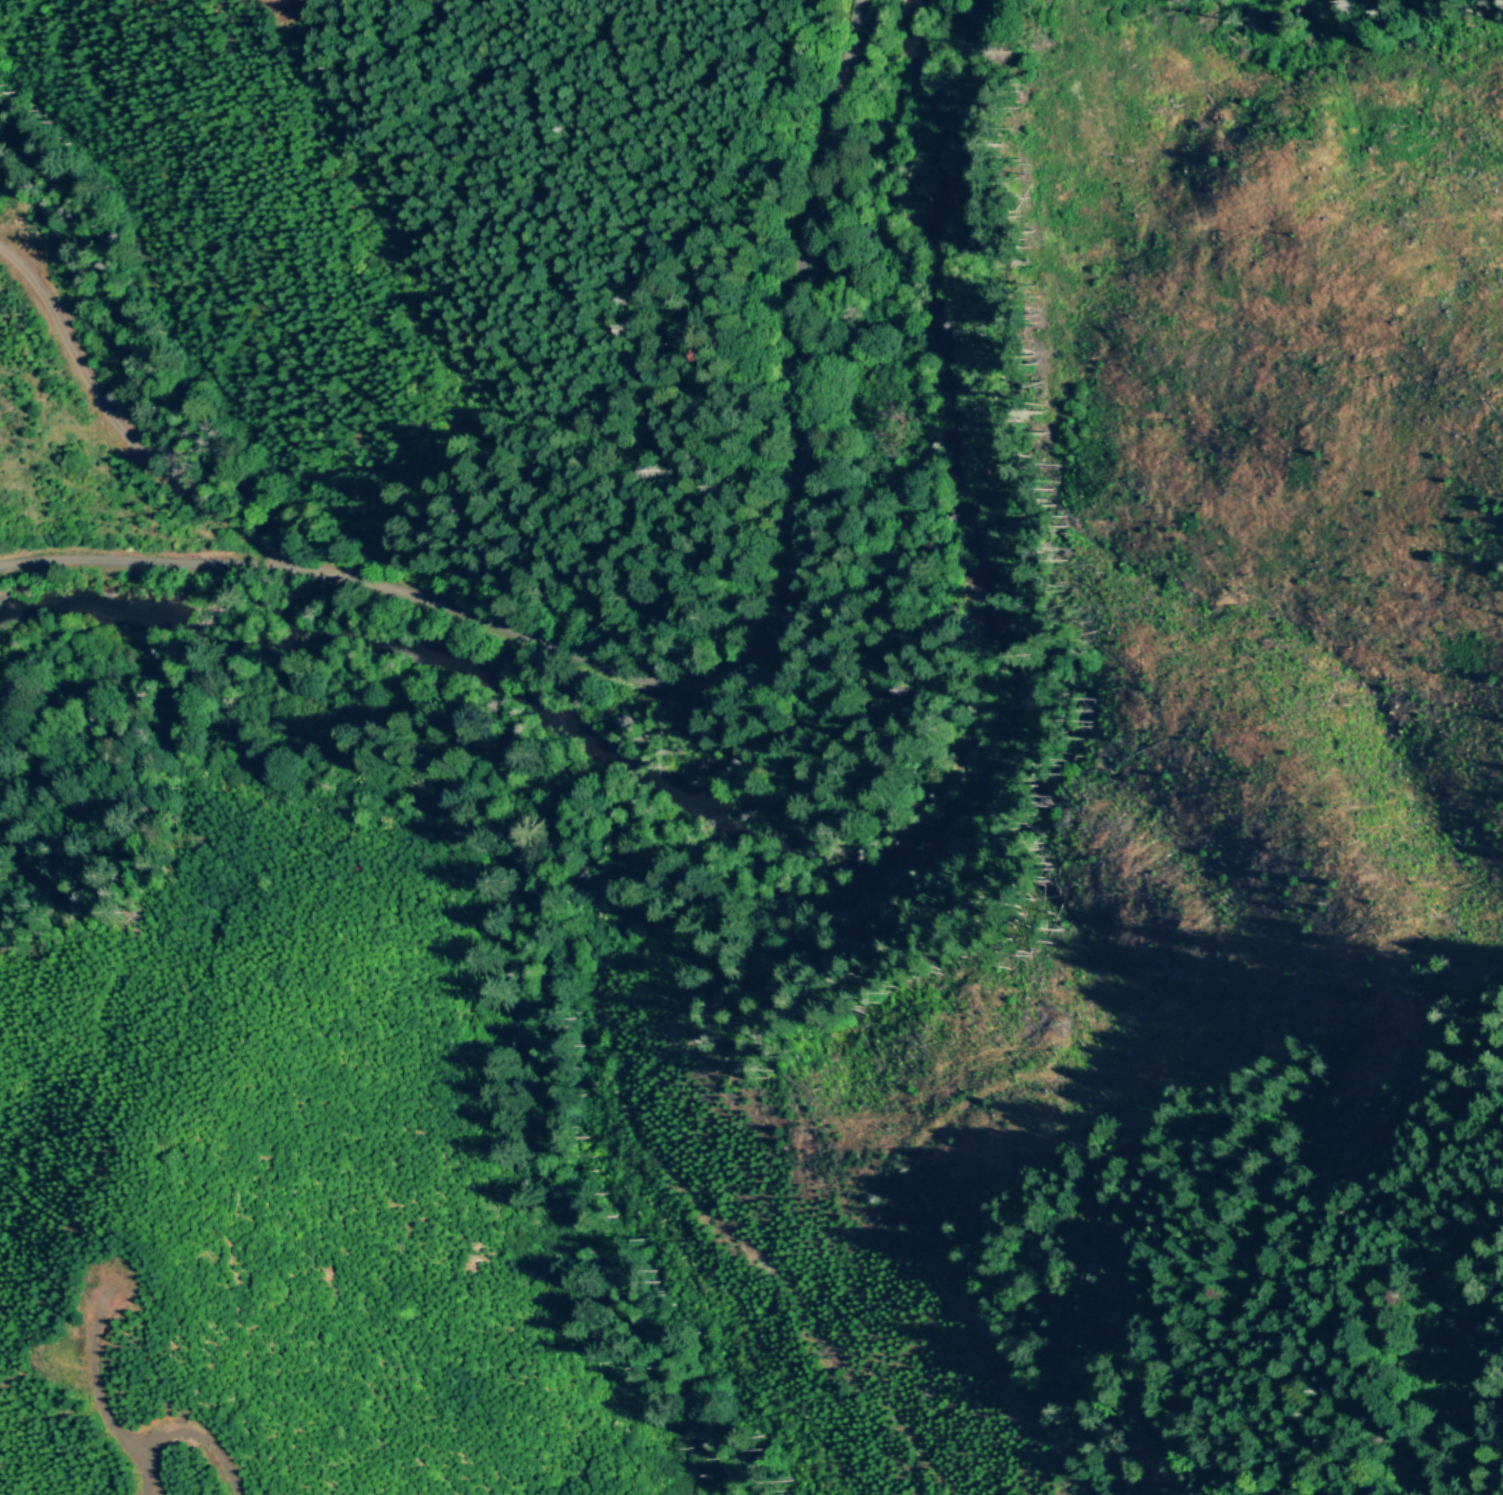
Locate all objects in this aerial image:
road: (120, 436)
road: (713, 671)
river: (876, 848)

